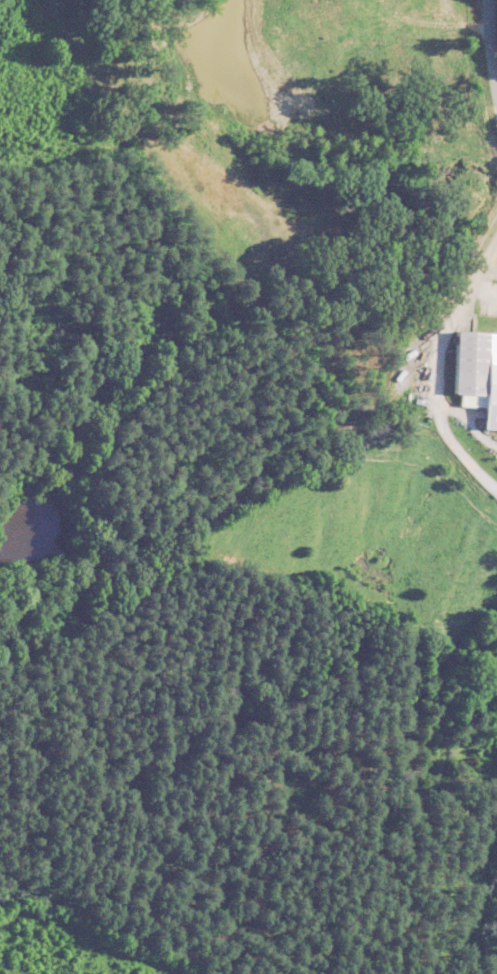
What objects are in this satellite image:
road: (486, 60)
building: (477, 370)

